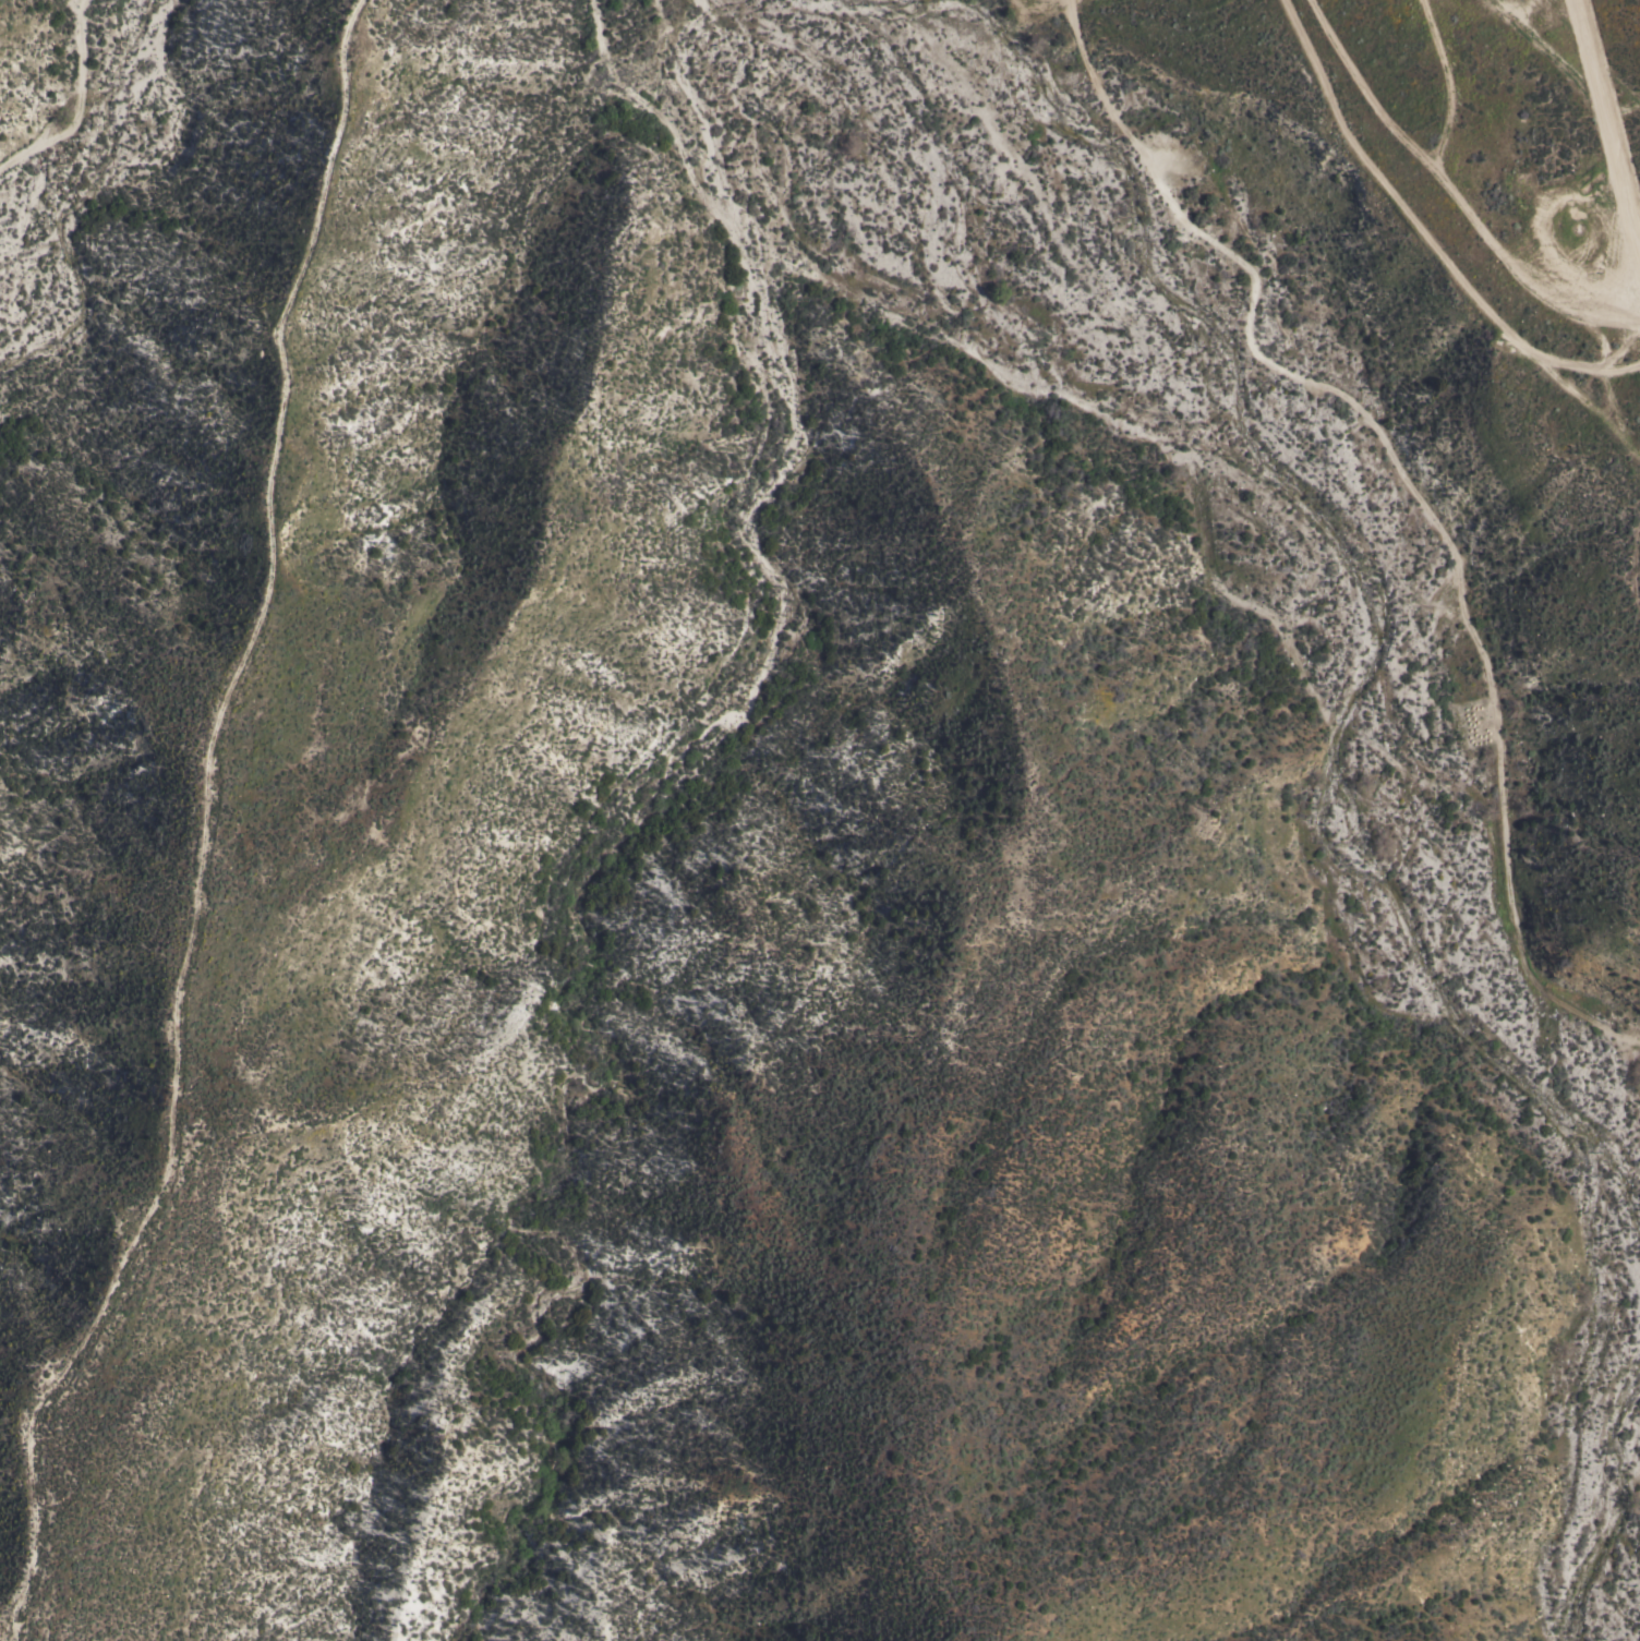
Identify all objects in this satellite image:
road: (1527, 11)
road: (1449, 84)
road: (76, 101)
road: (1597, 106)
road: (1621, 109)
road: (1450, 194)
road: (1421, 233)
road: (1414, 490)

